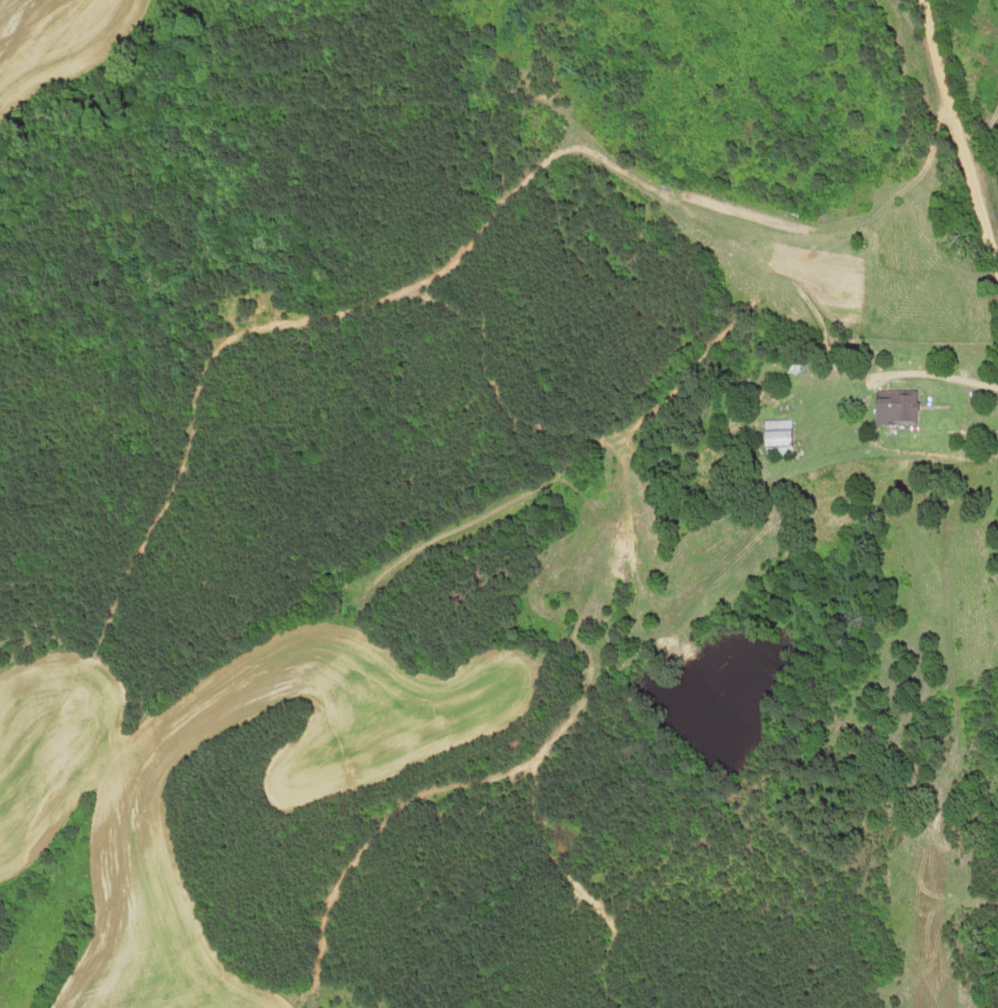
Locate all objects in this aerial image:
road: (961, 129)
building: (896, 409)
building: (775, 439)

